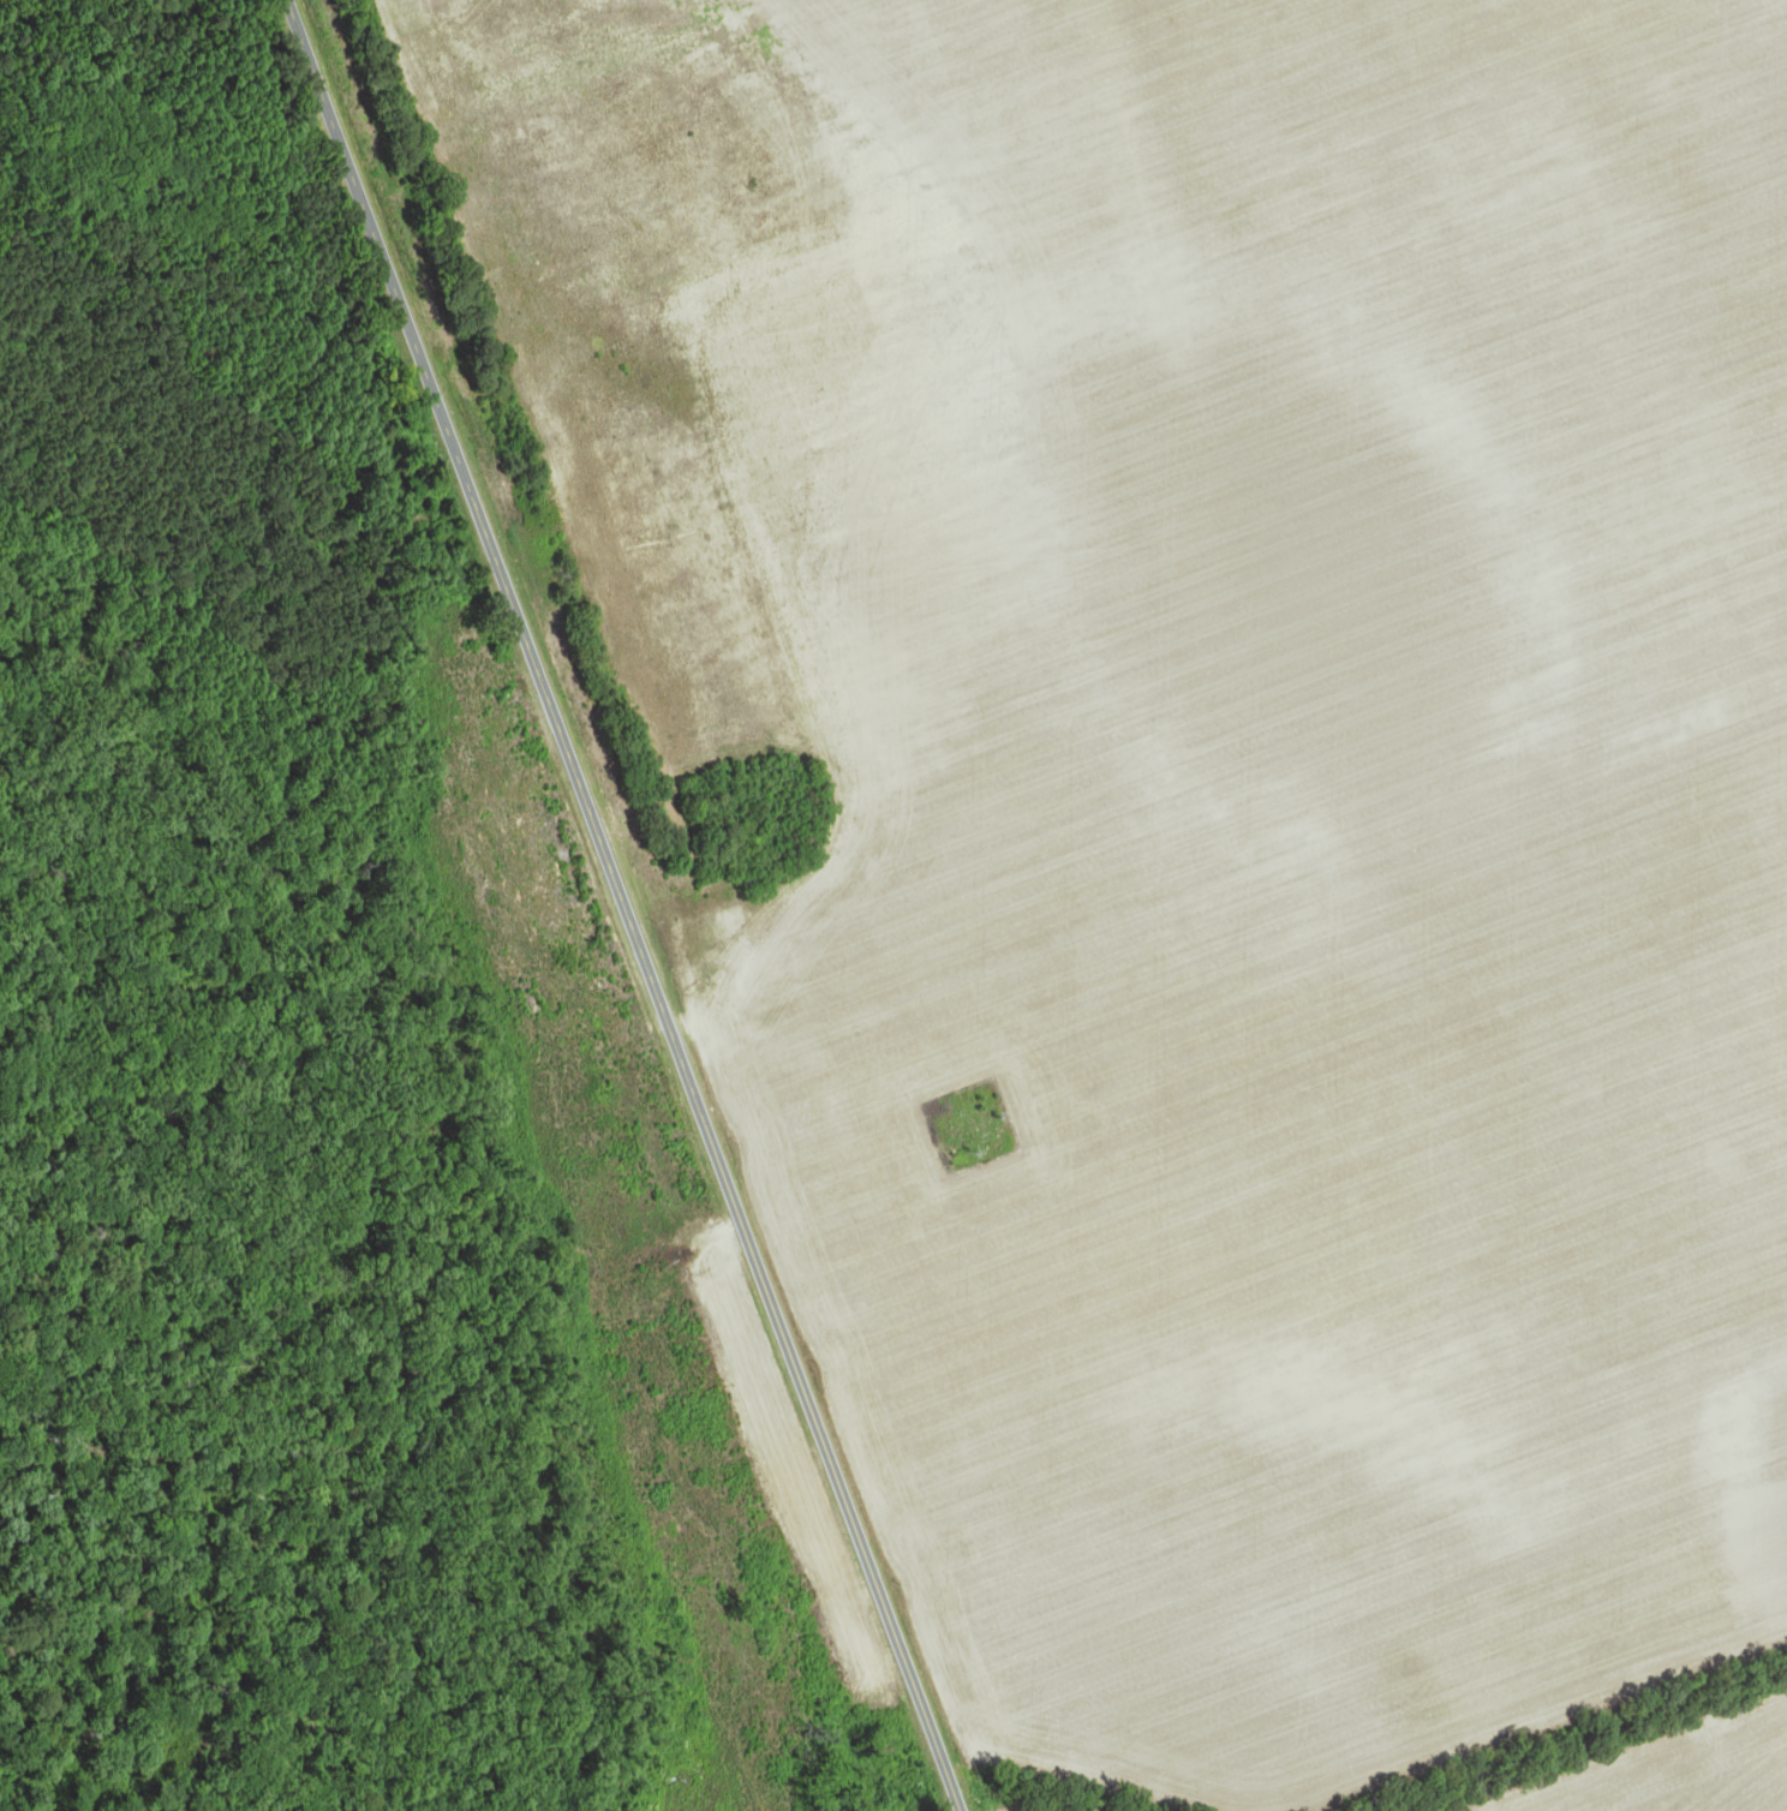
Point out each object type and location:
road: (623, 905)
park: (972, 1125)

